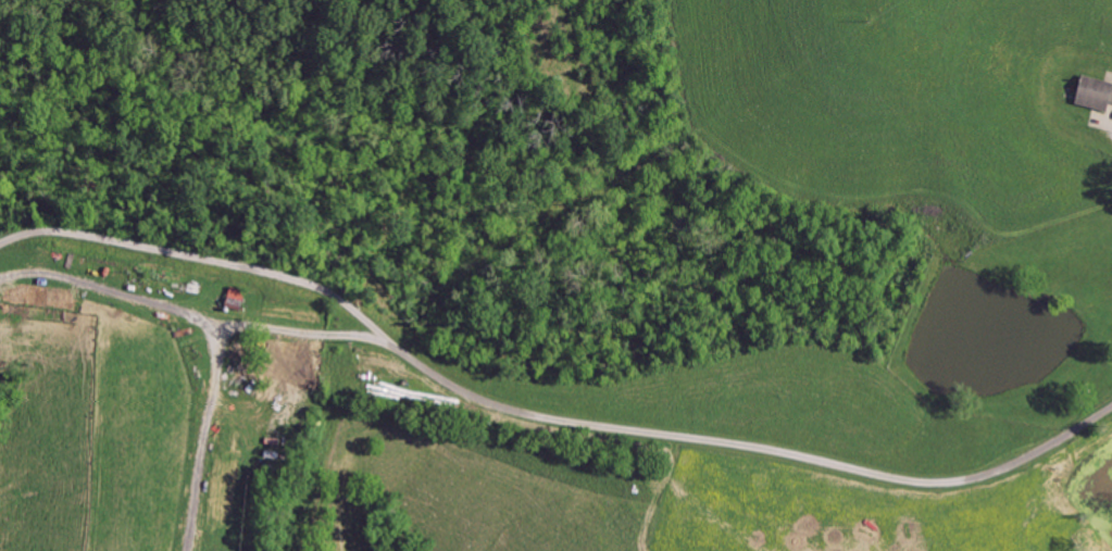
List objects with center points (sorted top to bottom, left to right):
building: (1098, 93)
road: (193, 312)
road: (543, 416)

